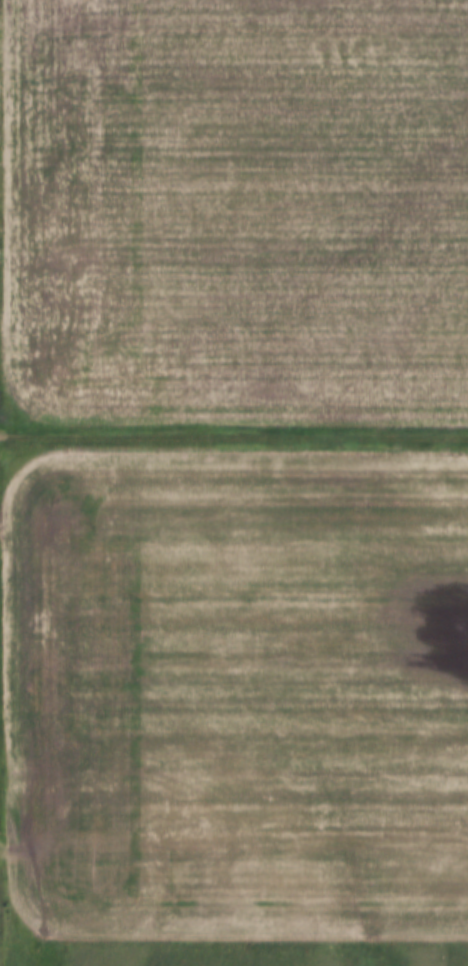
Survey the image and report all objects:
road: (233, 437)

